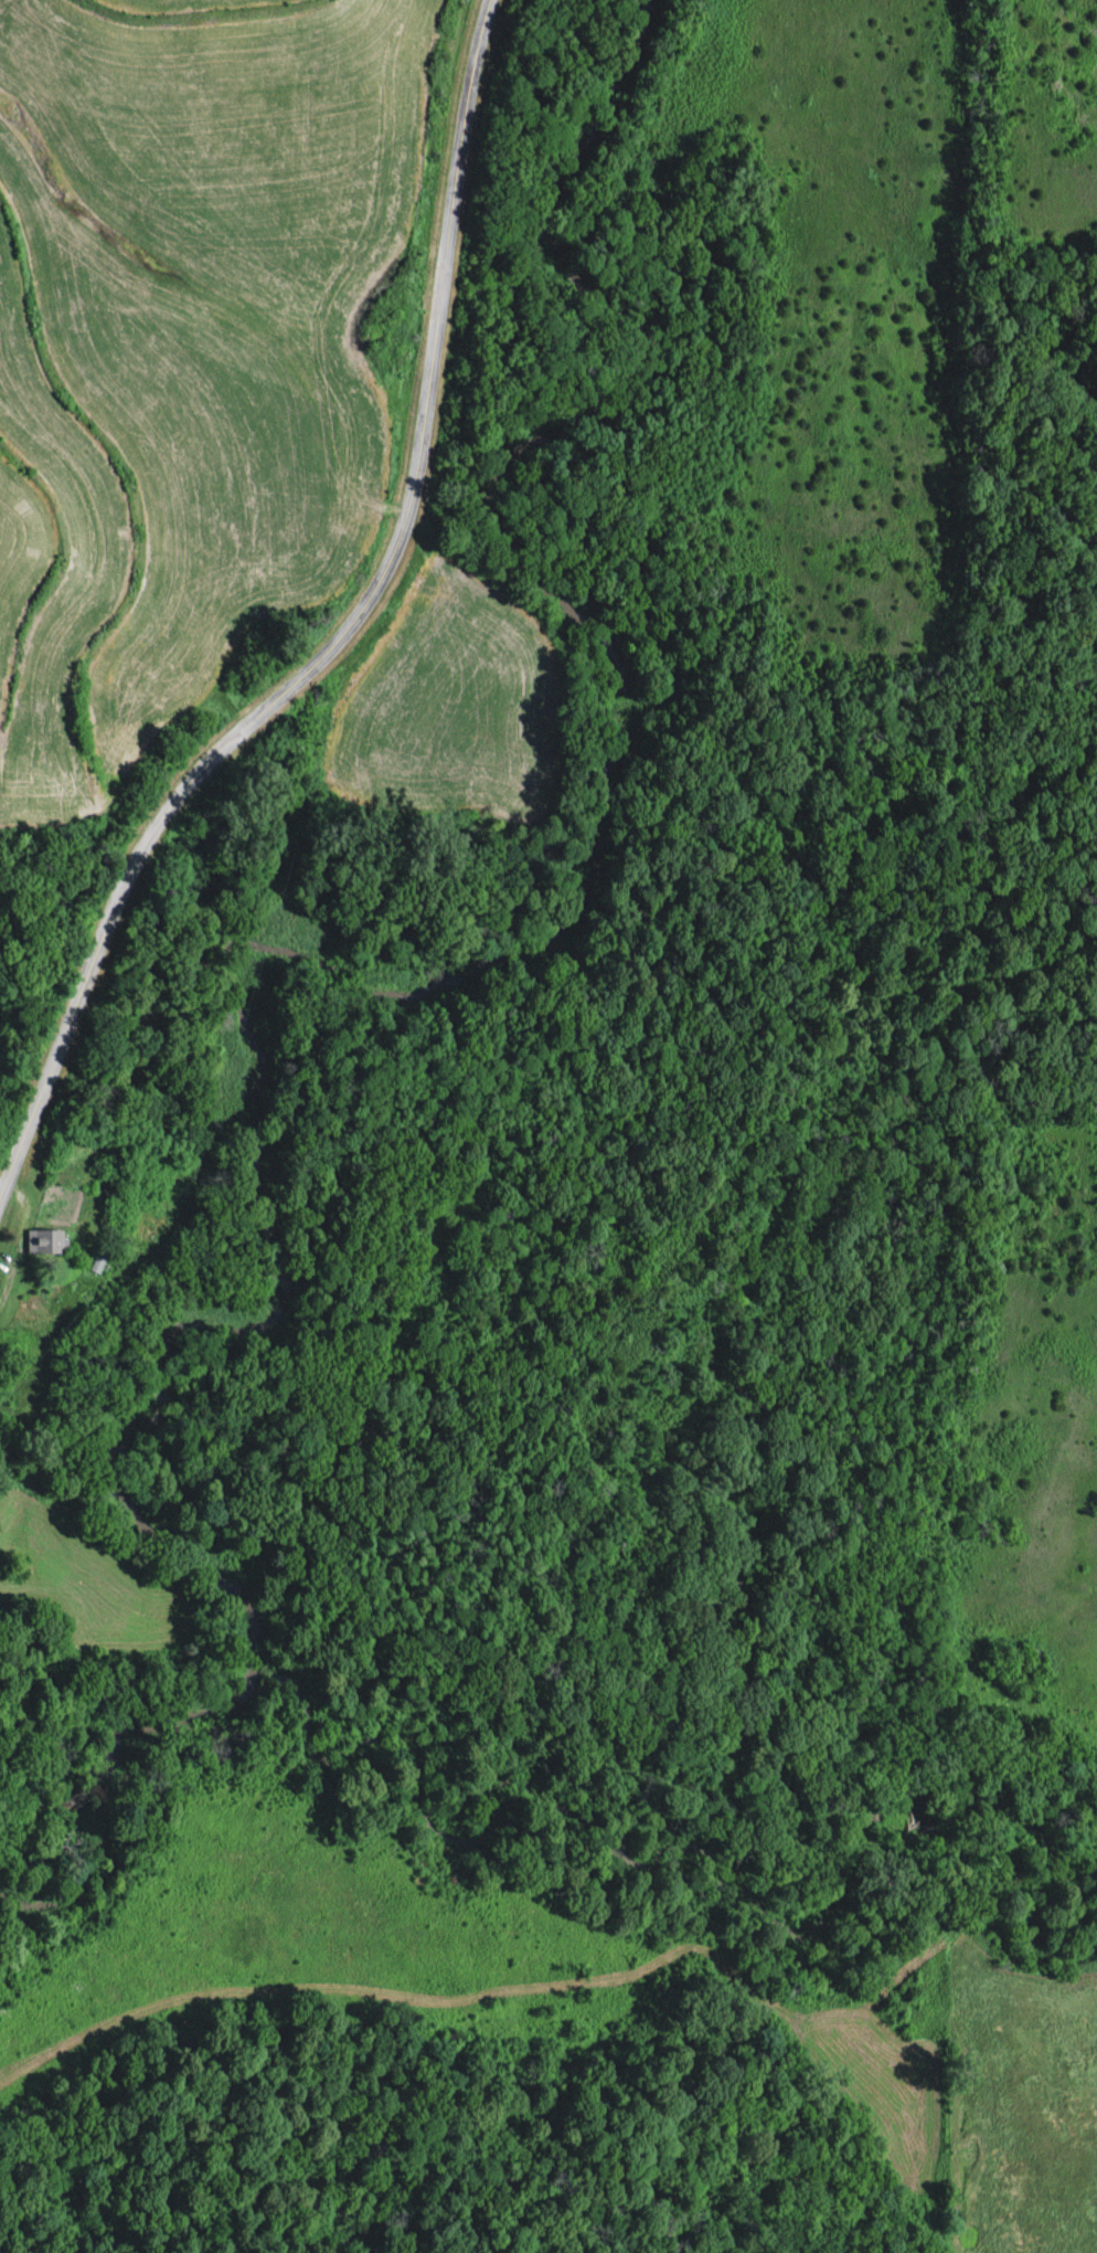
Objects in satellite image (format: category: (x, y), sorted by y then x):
road: (338, 632)
building: (40, 1238)

